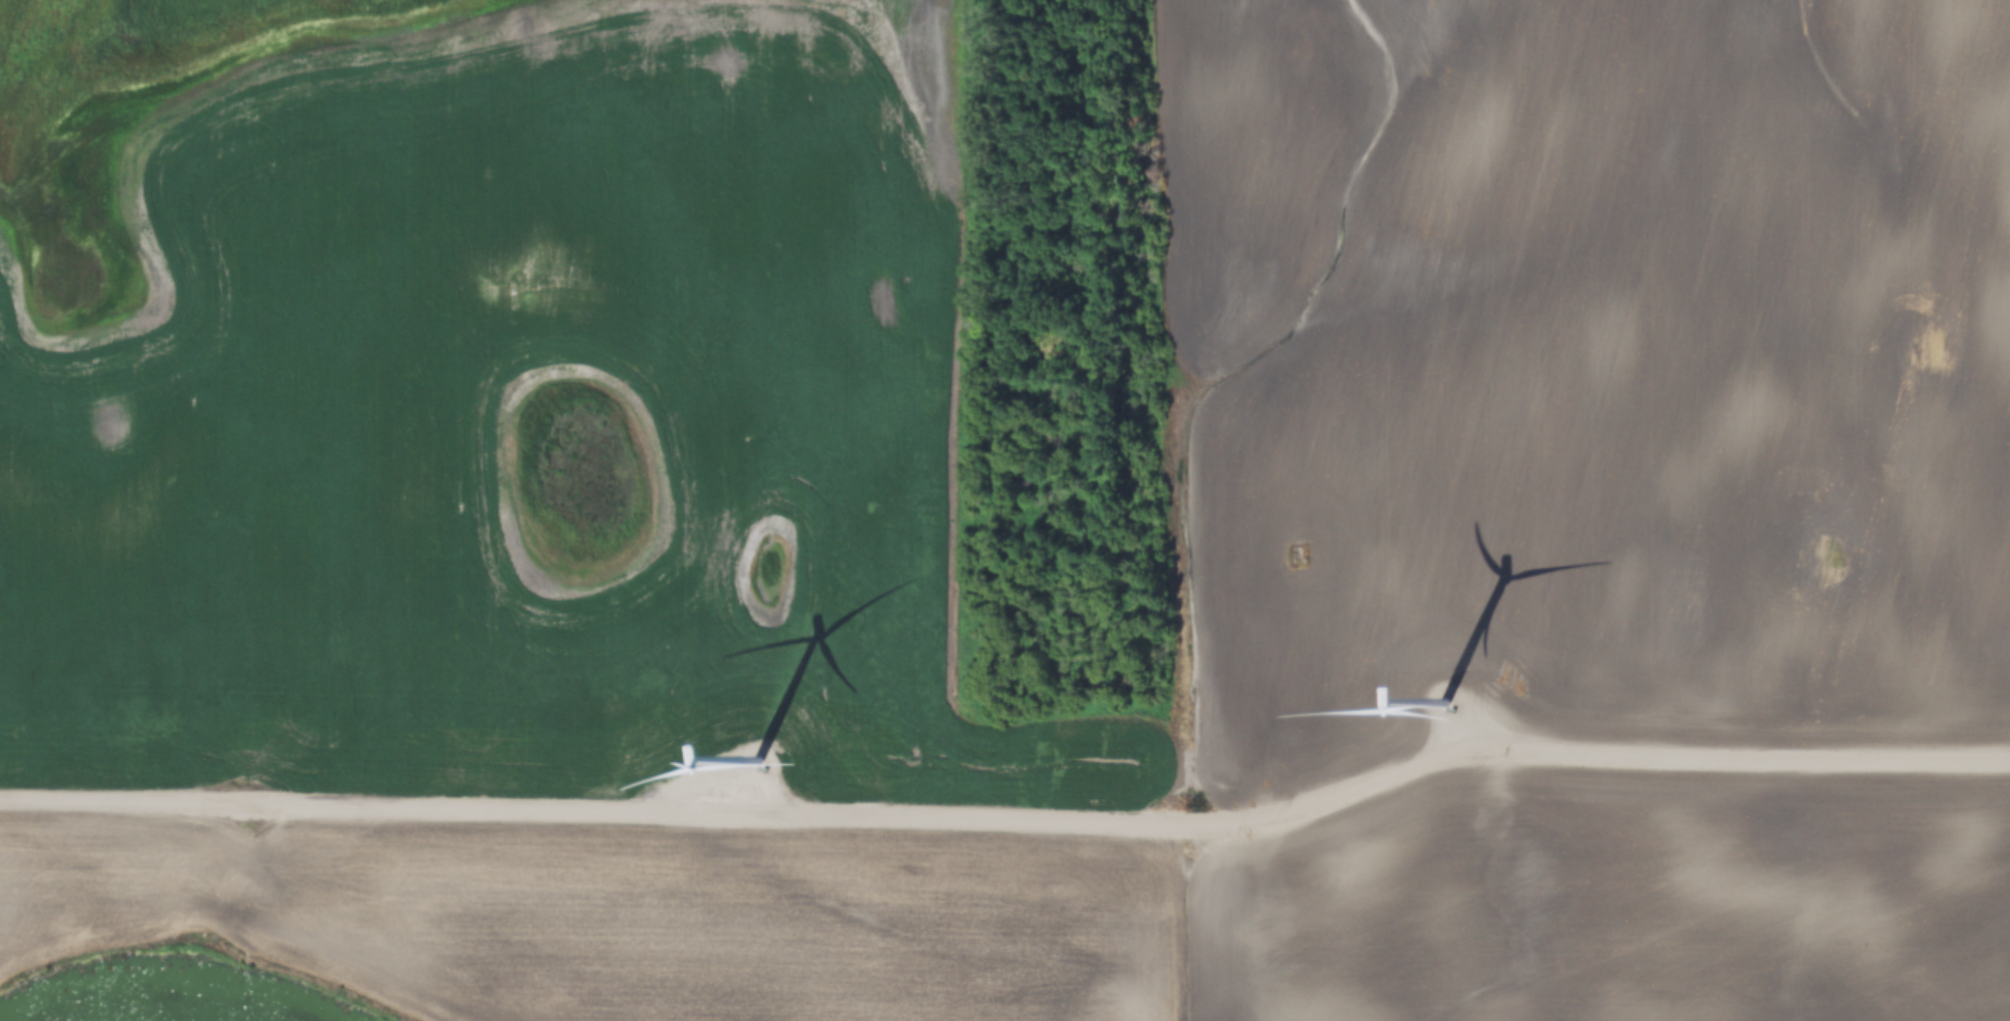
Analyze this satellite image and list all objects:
road: (1171, 401)
wind turbine: (1444, 702)
wind turbine: (756, 762)
road: (1011, 824)

